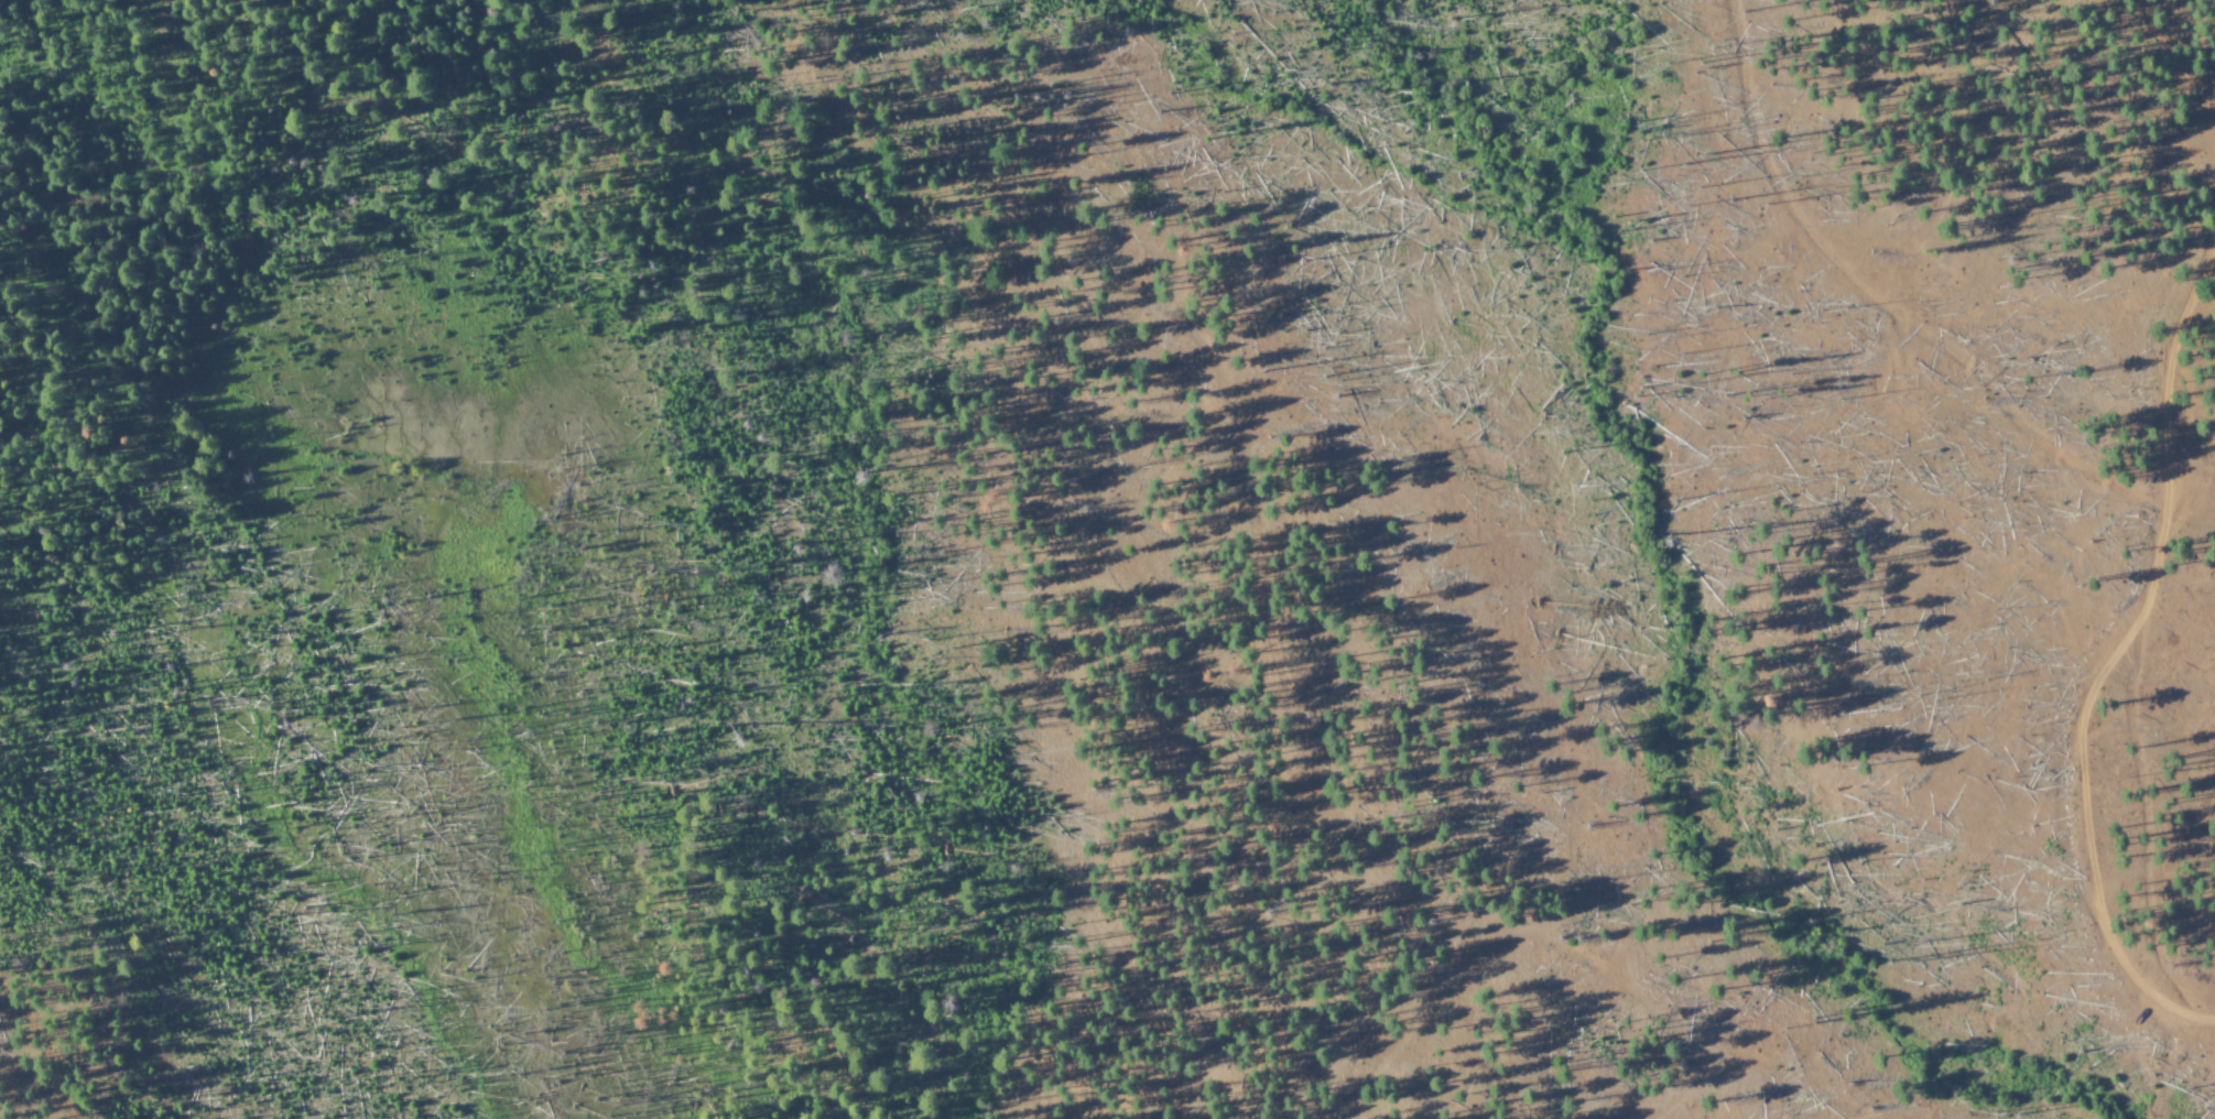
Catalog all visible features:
road: (2117, 474)

